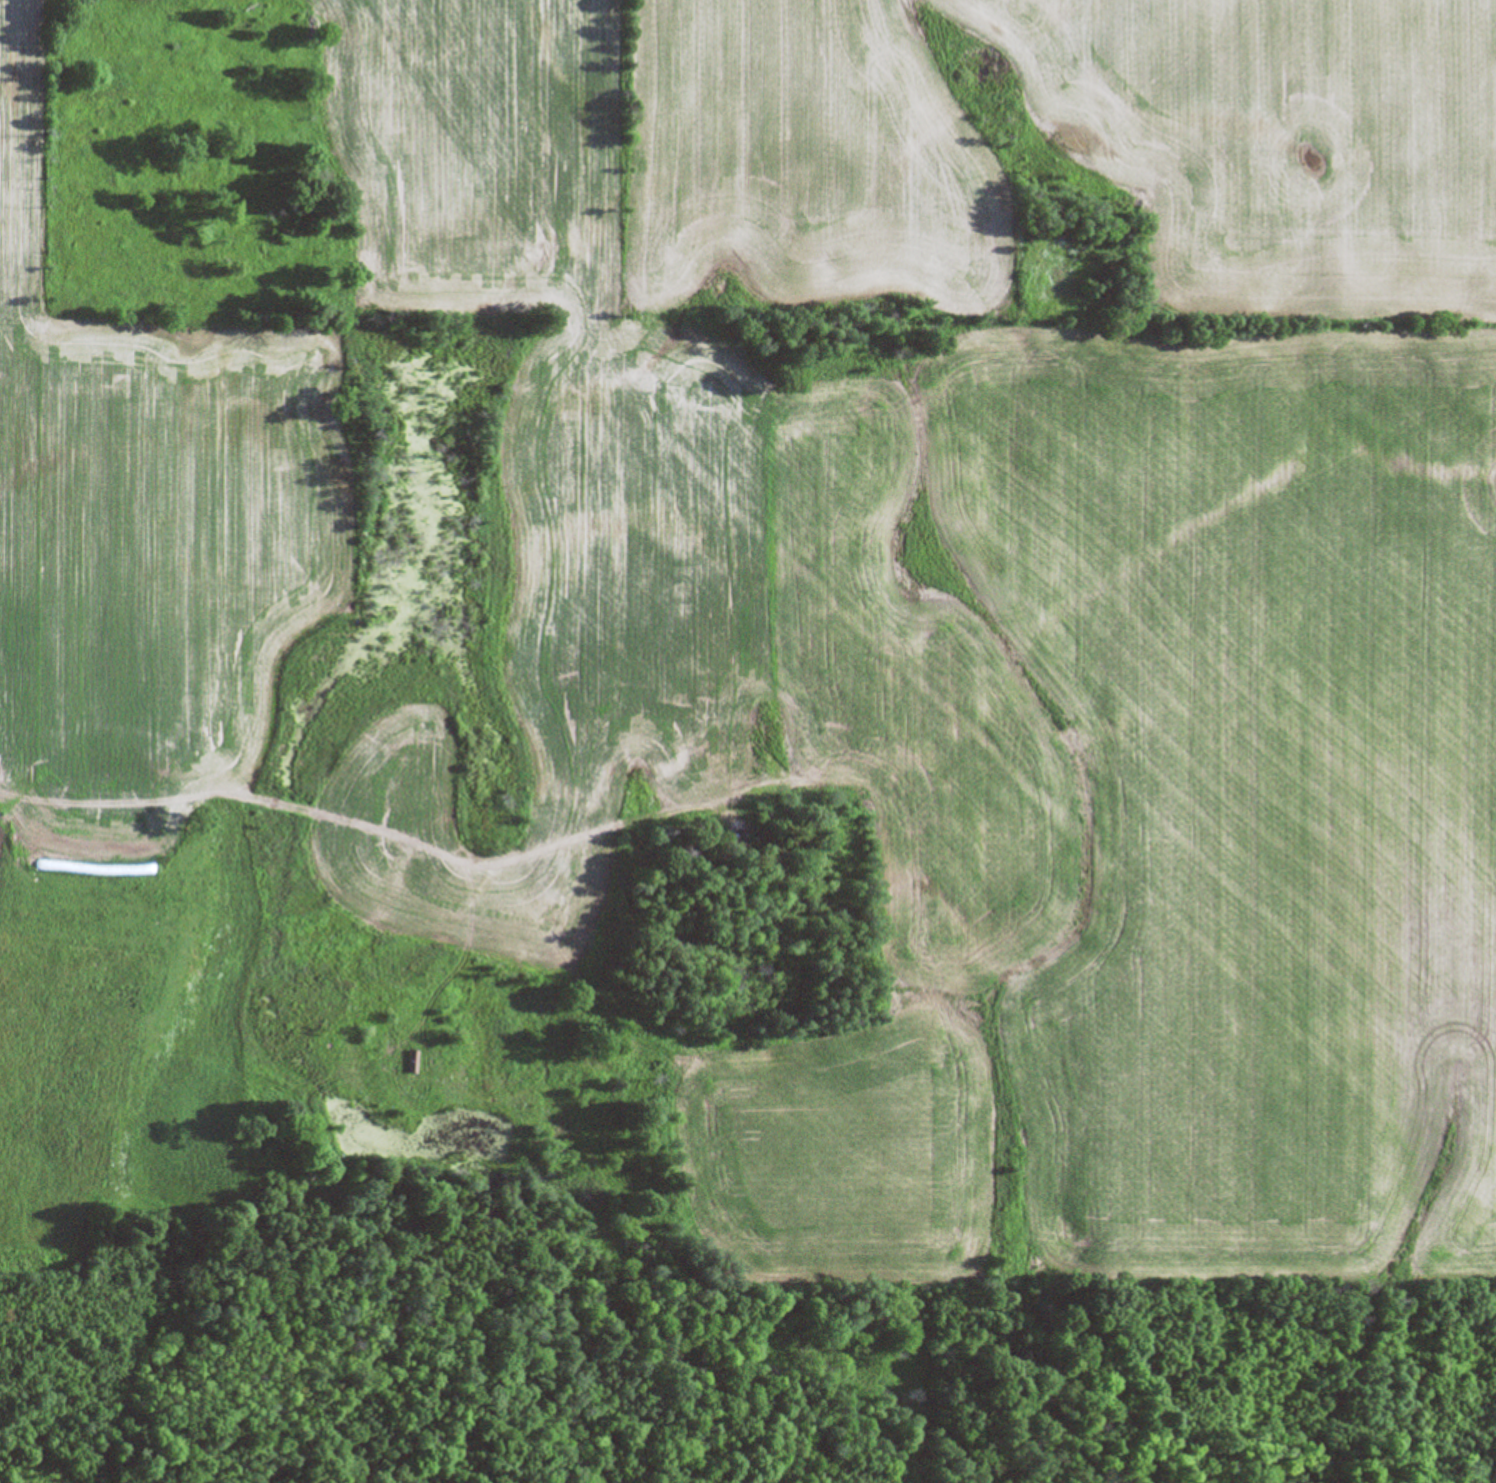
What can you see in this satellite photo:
building: (405, 1064)

